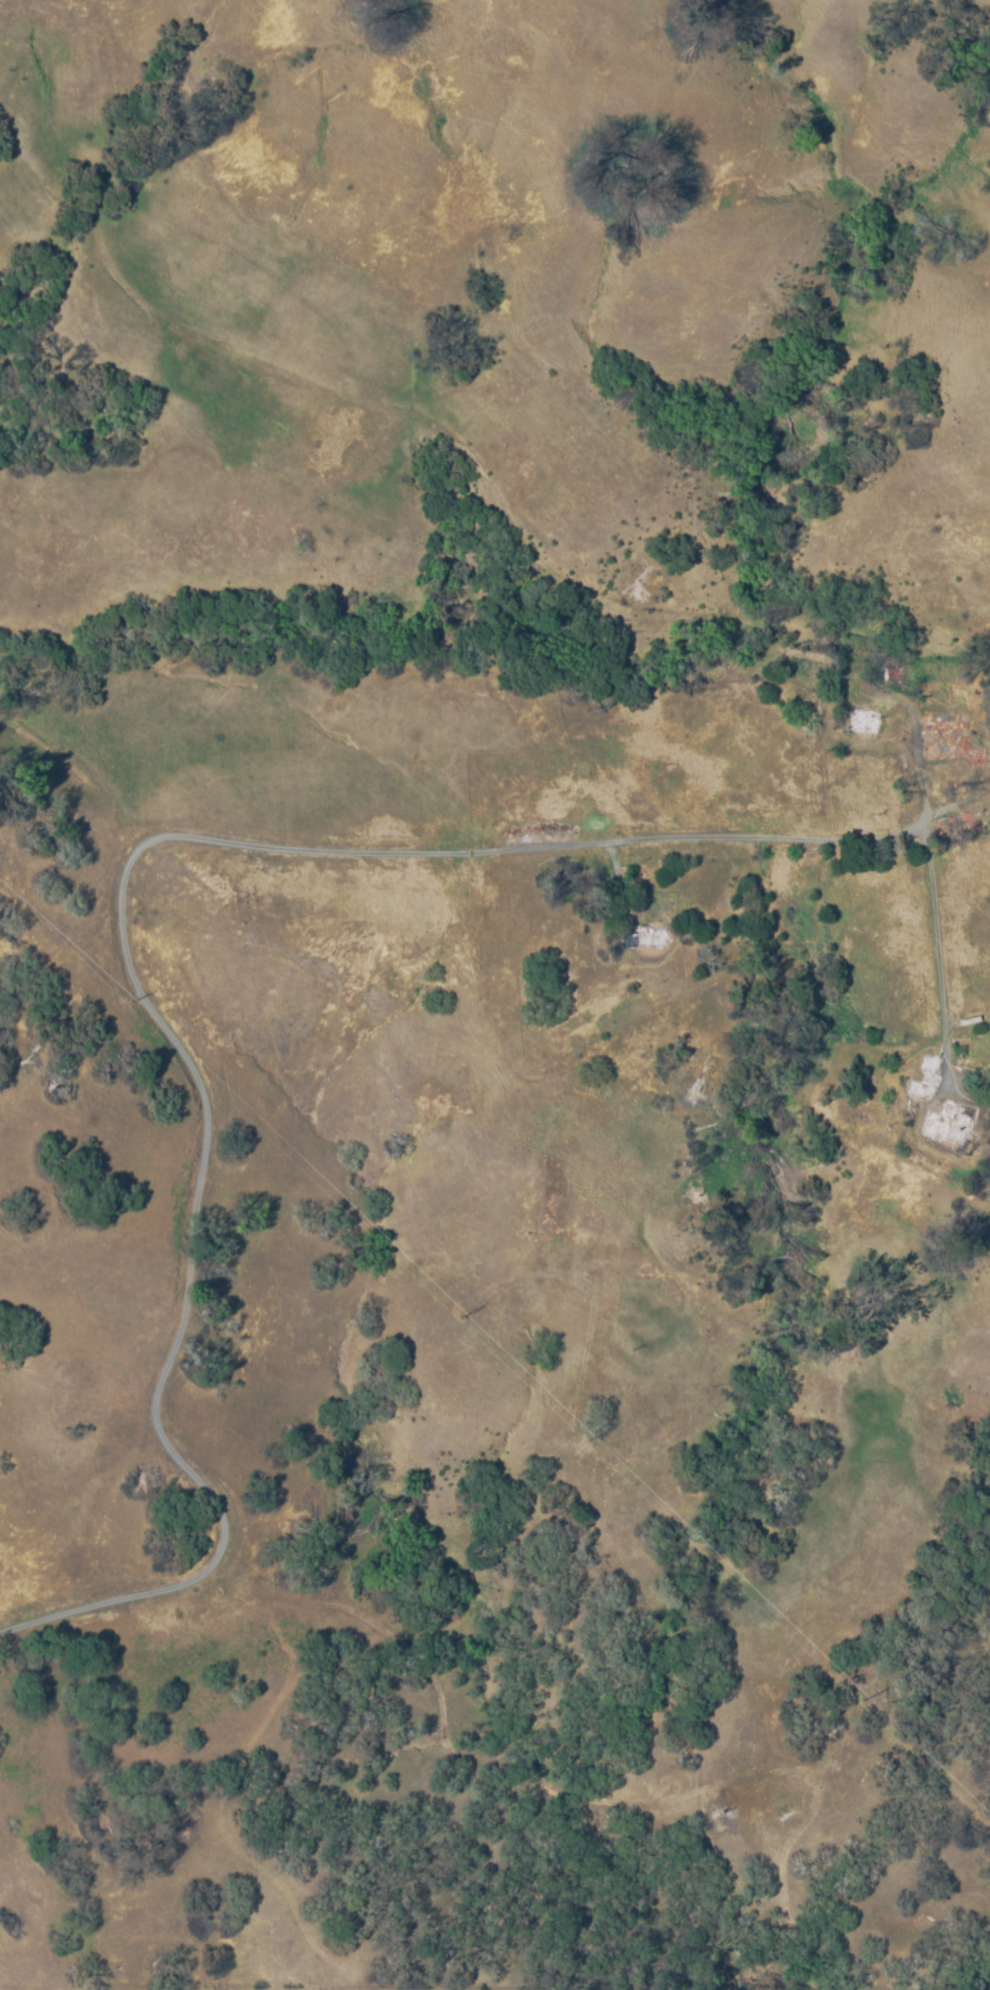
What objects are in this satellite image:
road: (864, 479)
building: (893, 671)
building: (865, 720)
building: (944, 734)
building: (978, 754)
road: (923, 767)
road: (955, 812)
building: (957, 821)
building: (542, 833)
road: (496, 852)
road: (361, 928)
building: (645, 935)
road: (939, 950)
road: (658, 1031)
building: (926, 1073)
building: (949, 1122)
building: (989, 1155)
road: (159, 1359)

